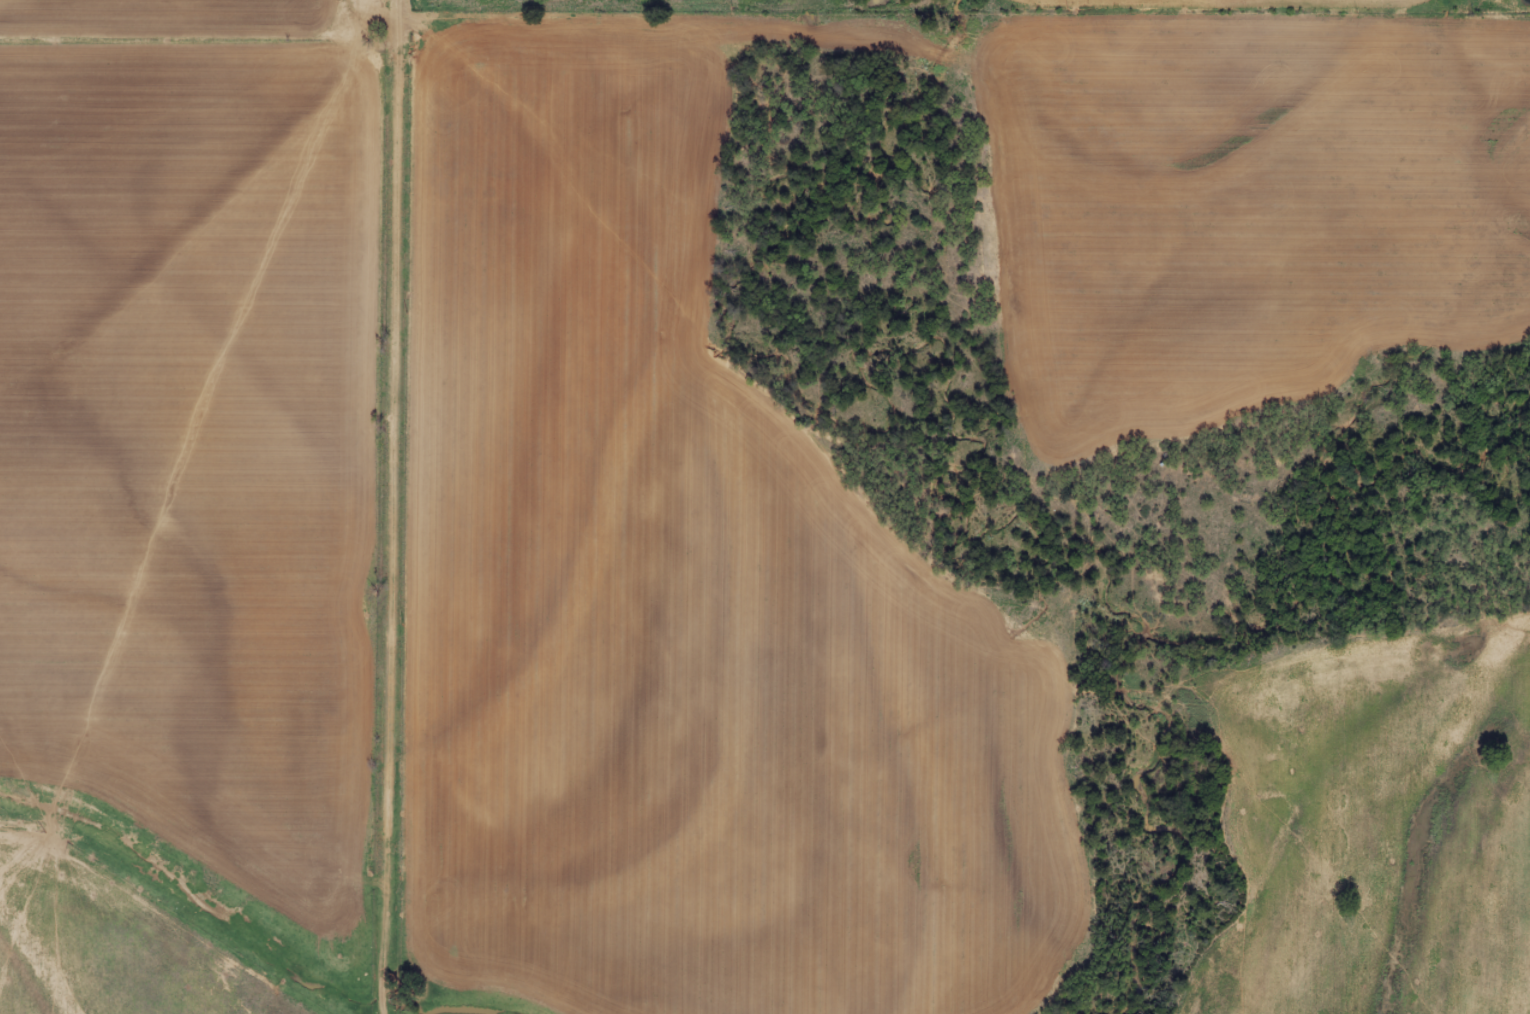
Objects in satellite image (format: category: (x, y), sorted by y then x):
road: (388, 576)
road: (162, 690)

